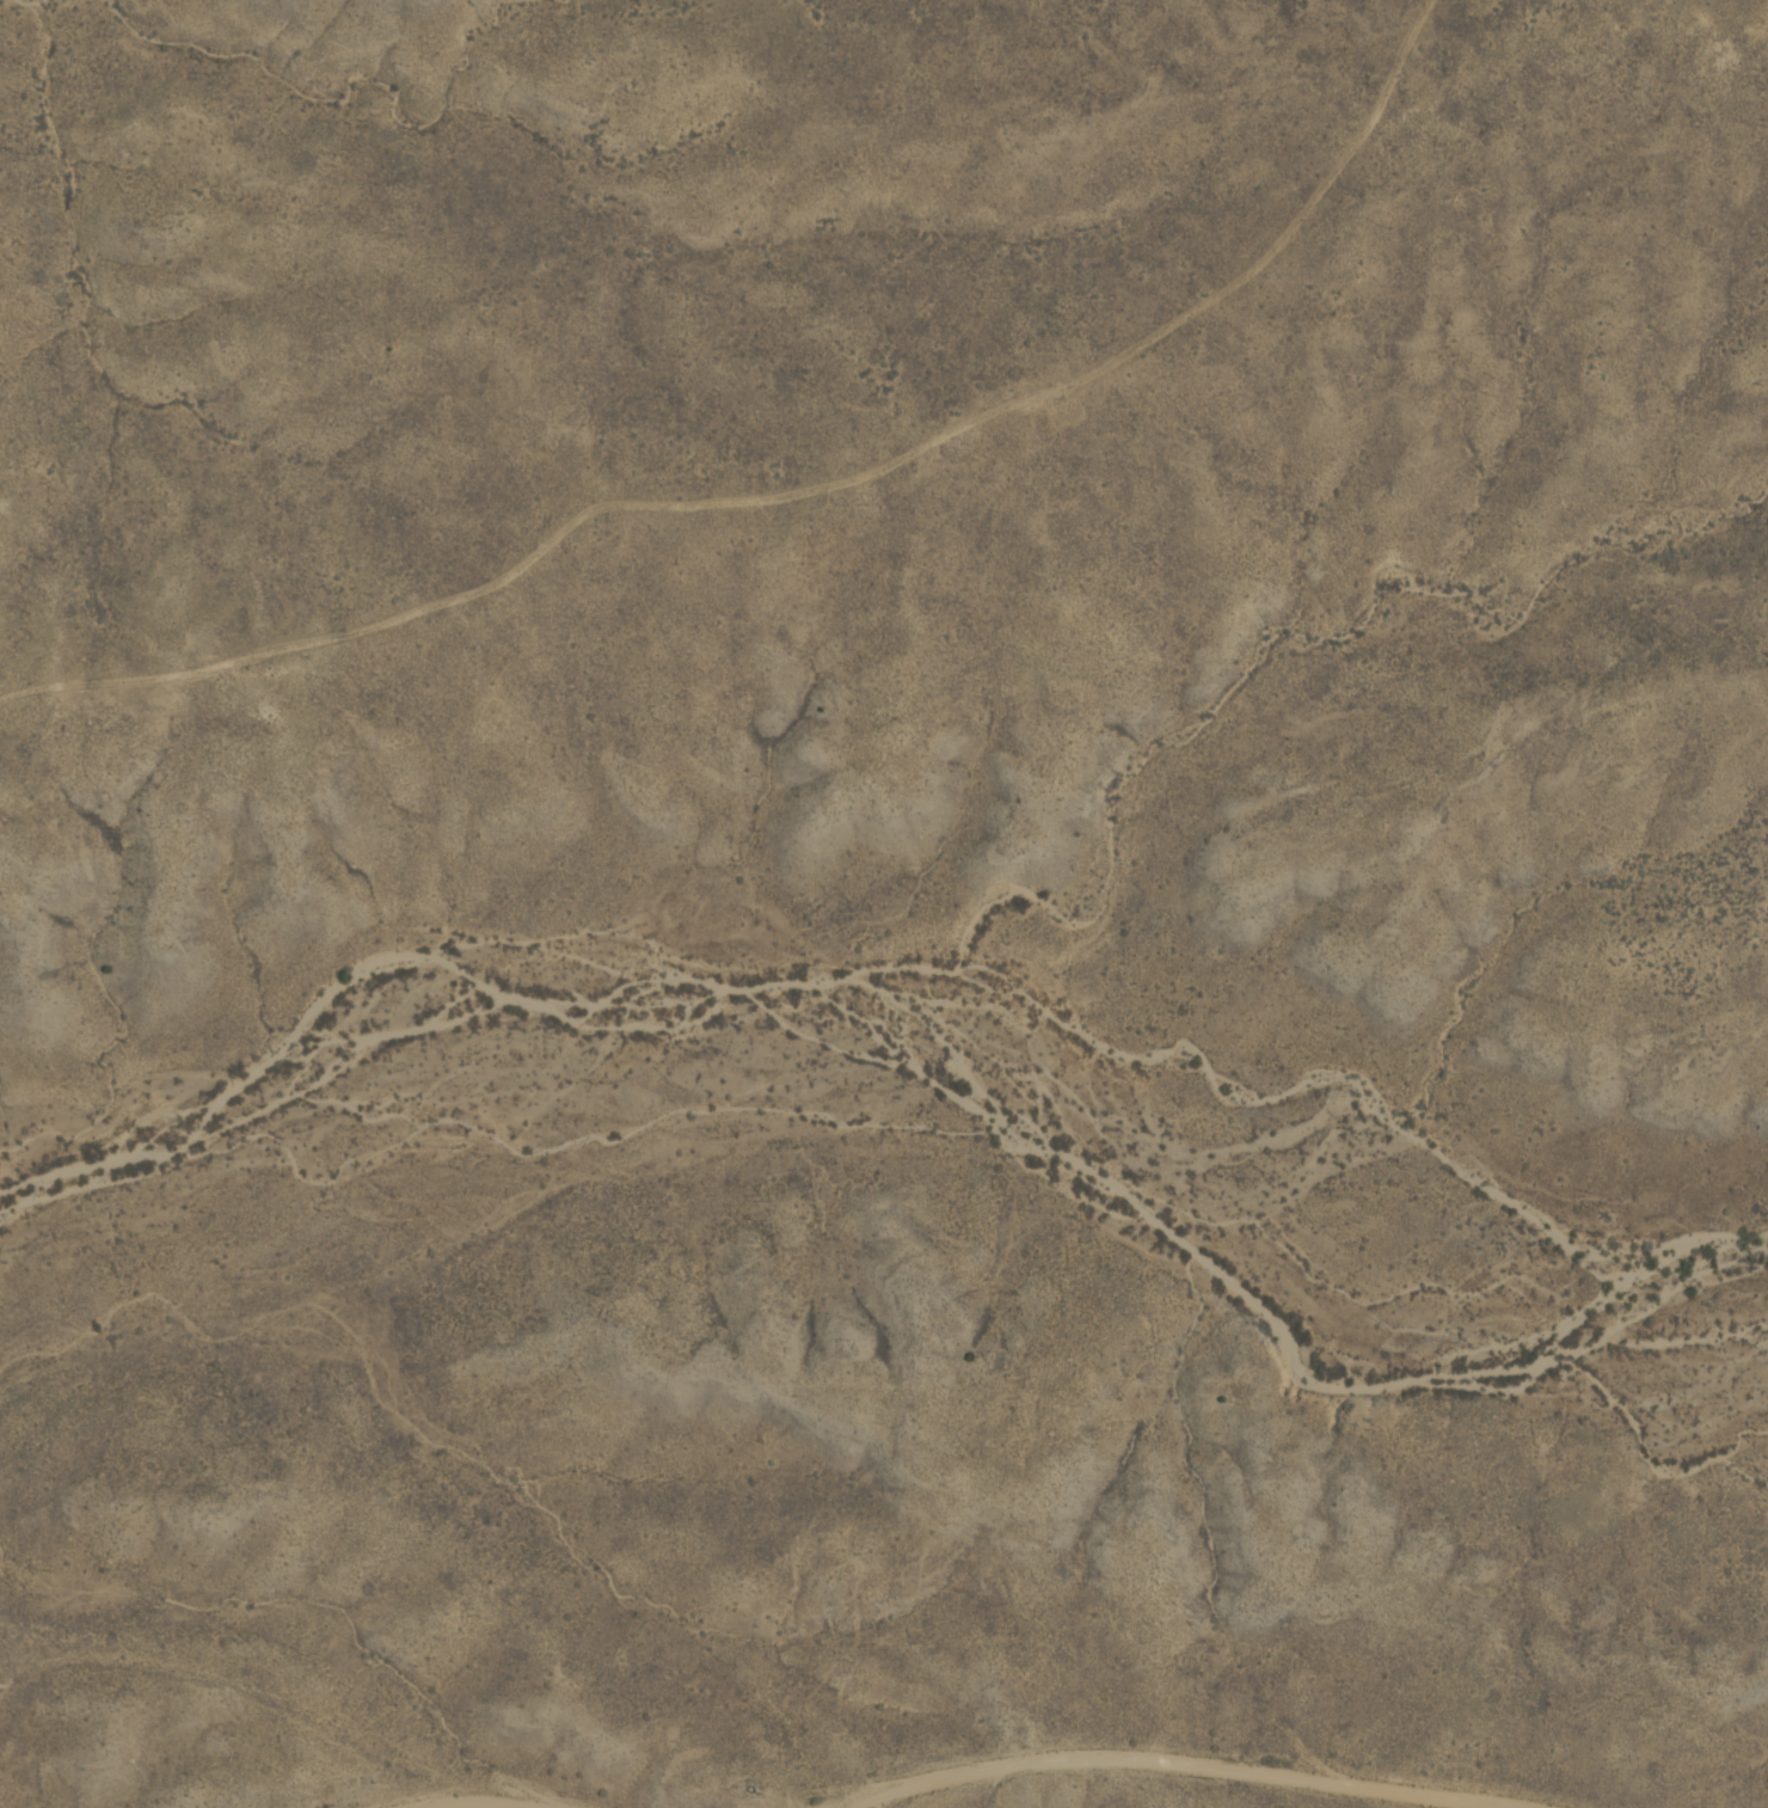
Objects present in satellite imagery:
road: (1184, 1772)
road: (444, 1797)

